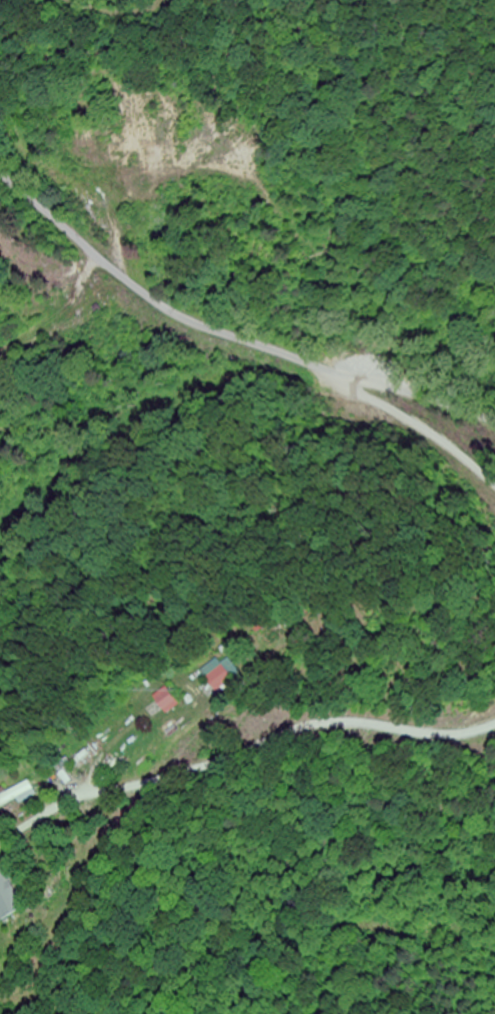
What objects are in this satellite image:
building: (72, 326)
road: (227, 333)
road: (423, 430)
building: (222, 674)
building: (169, 701)
road: (241, 754)
building: (18, 794)

